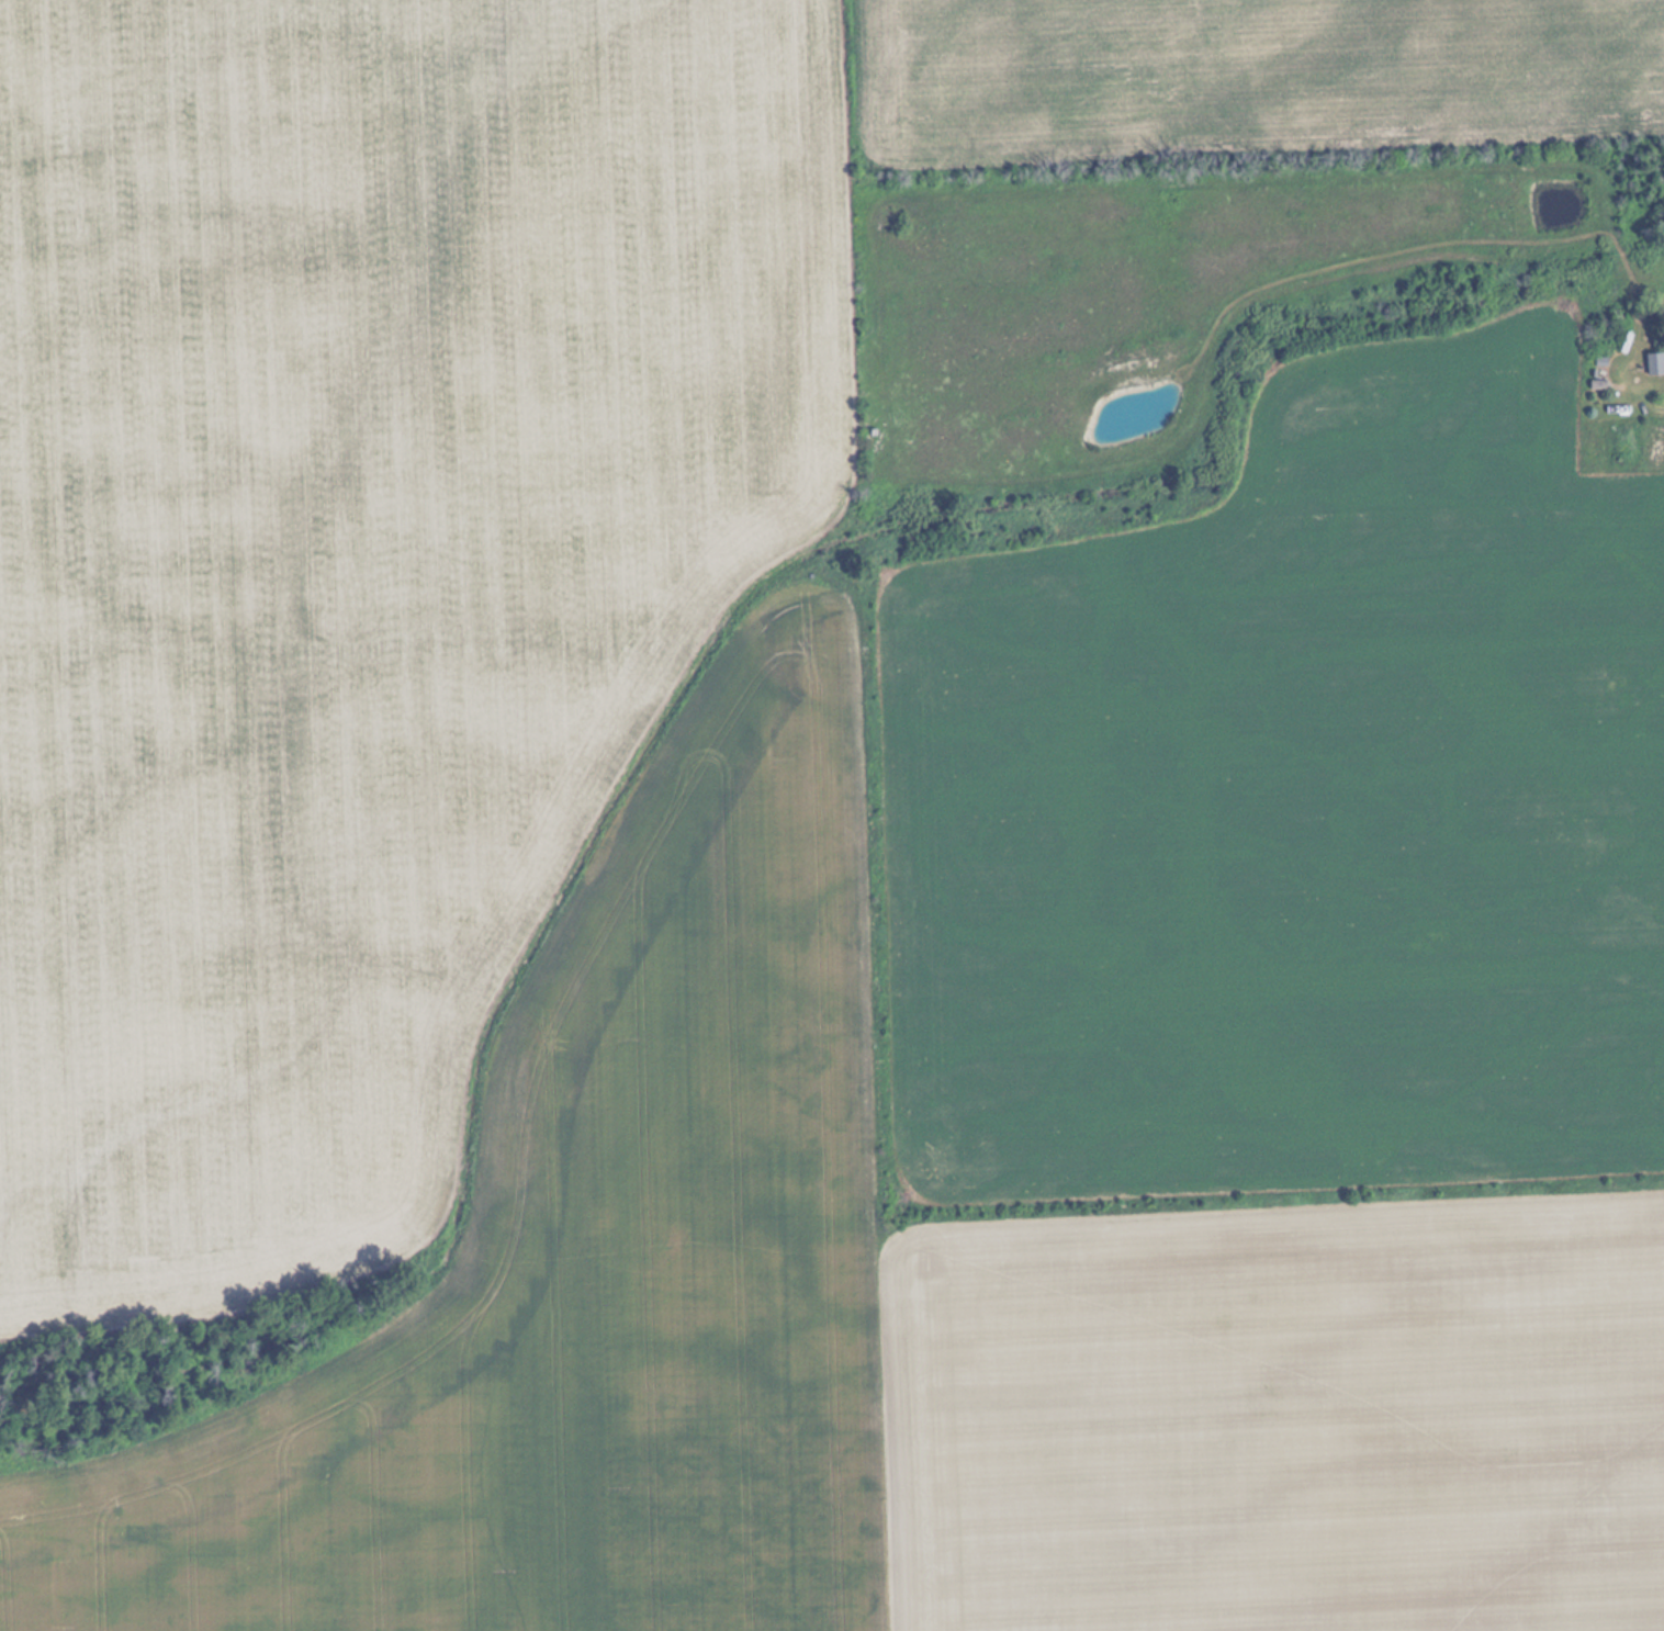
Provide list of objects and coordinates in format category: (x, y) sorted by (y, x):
building: (1655, 361)
crop: (774, 901)

